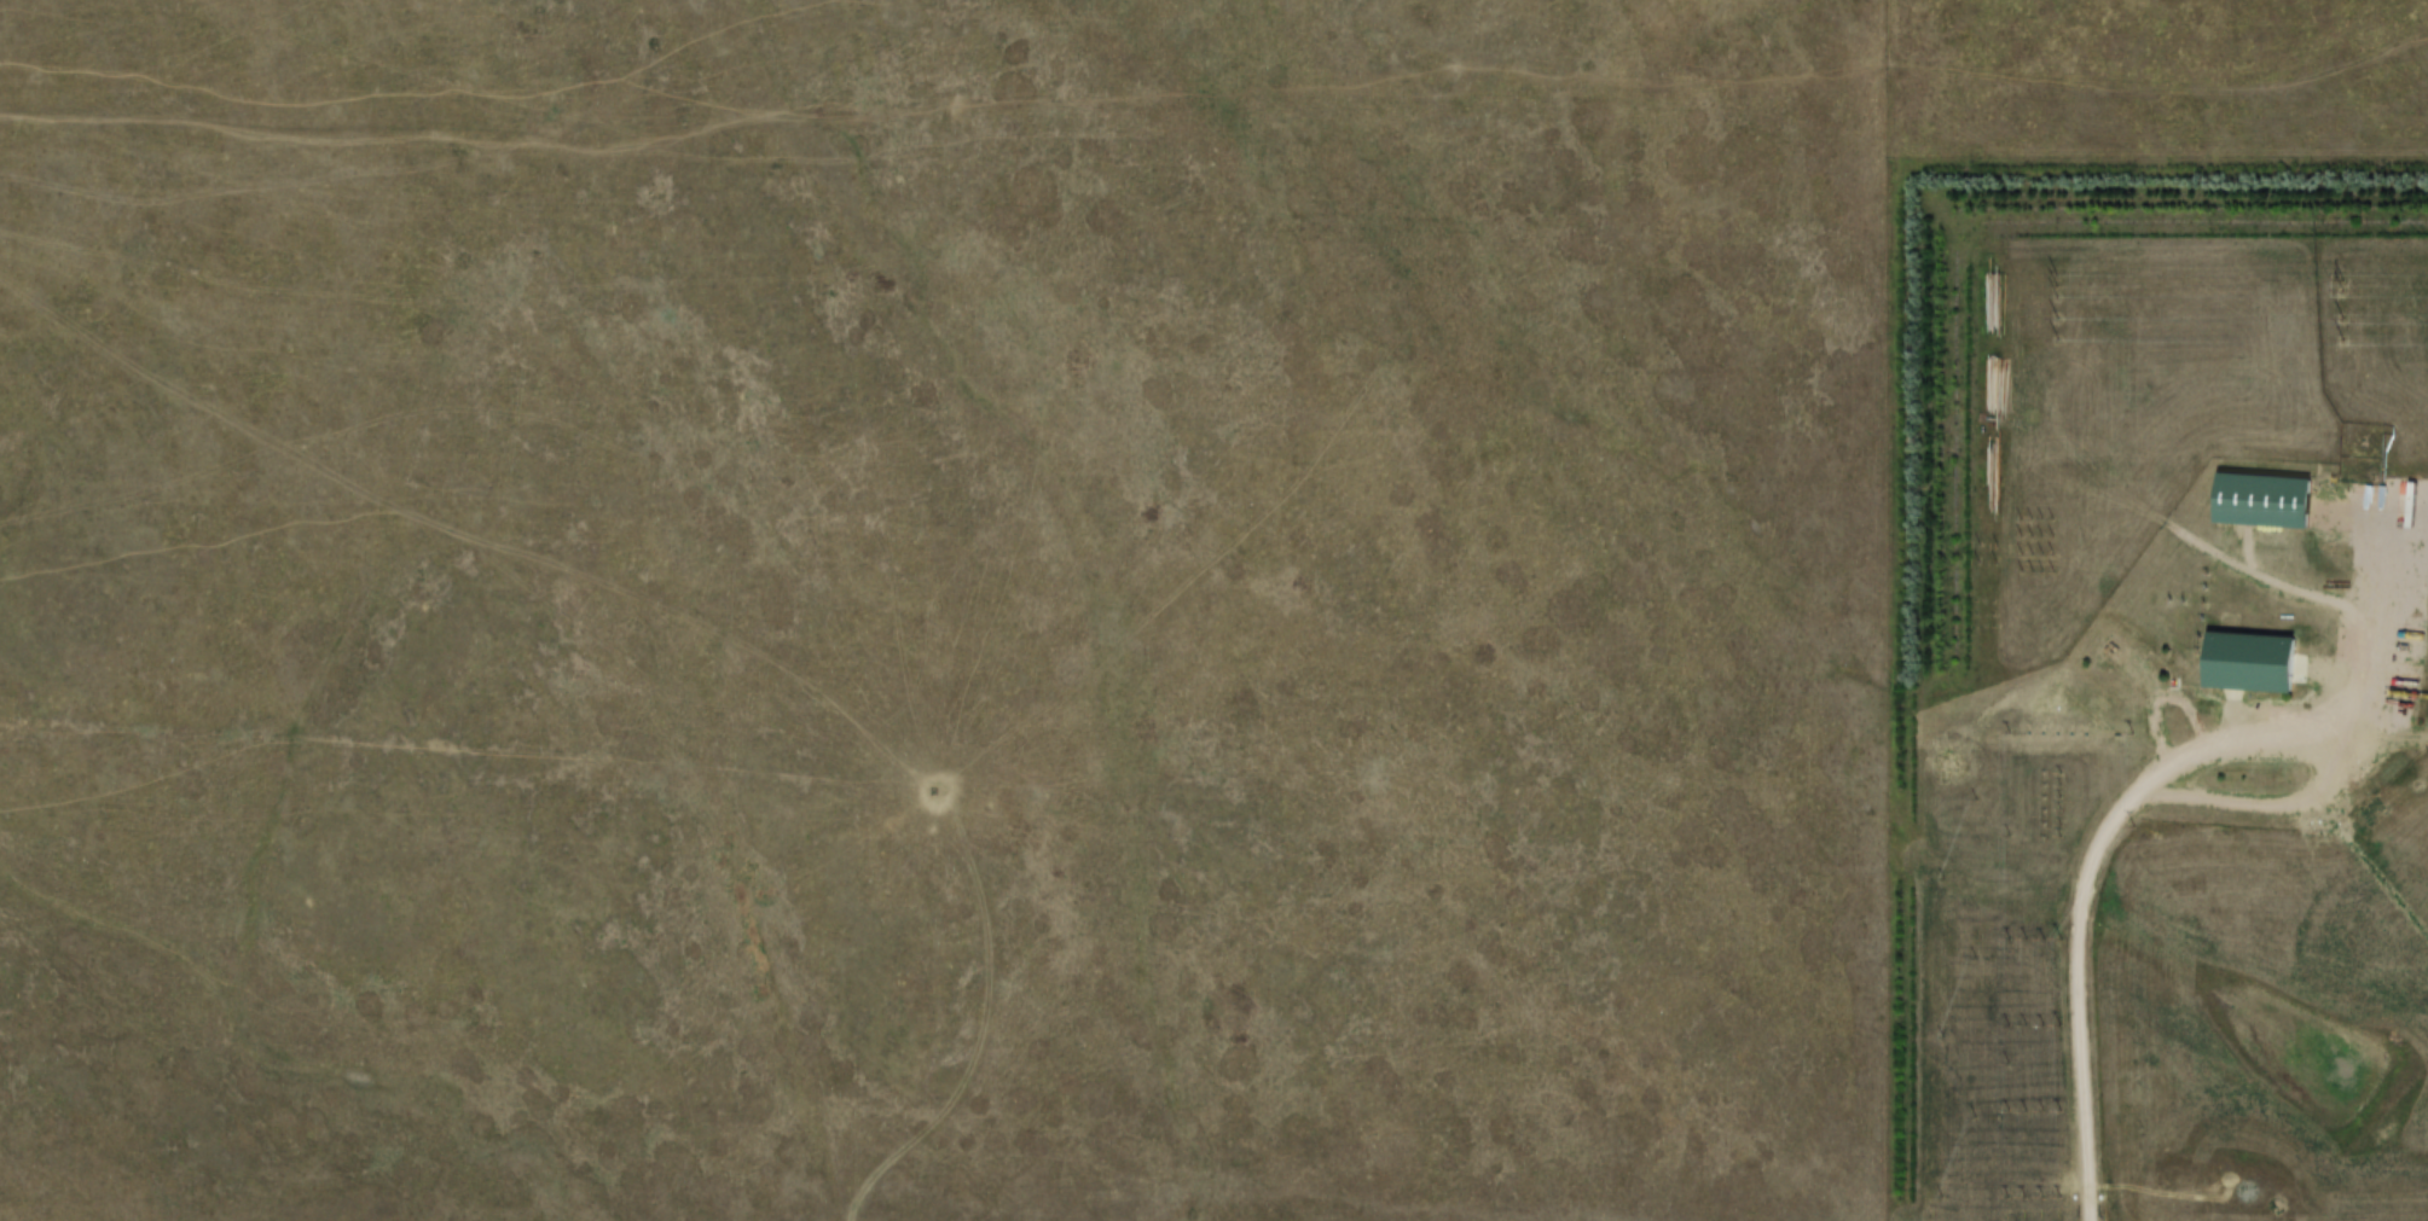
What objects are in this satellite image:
building: (2254, 489)
building: (2114, 649)
building: (2238, 652)

